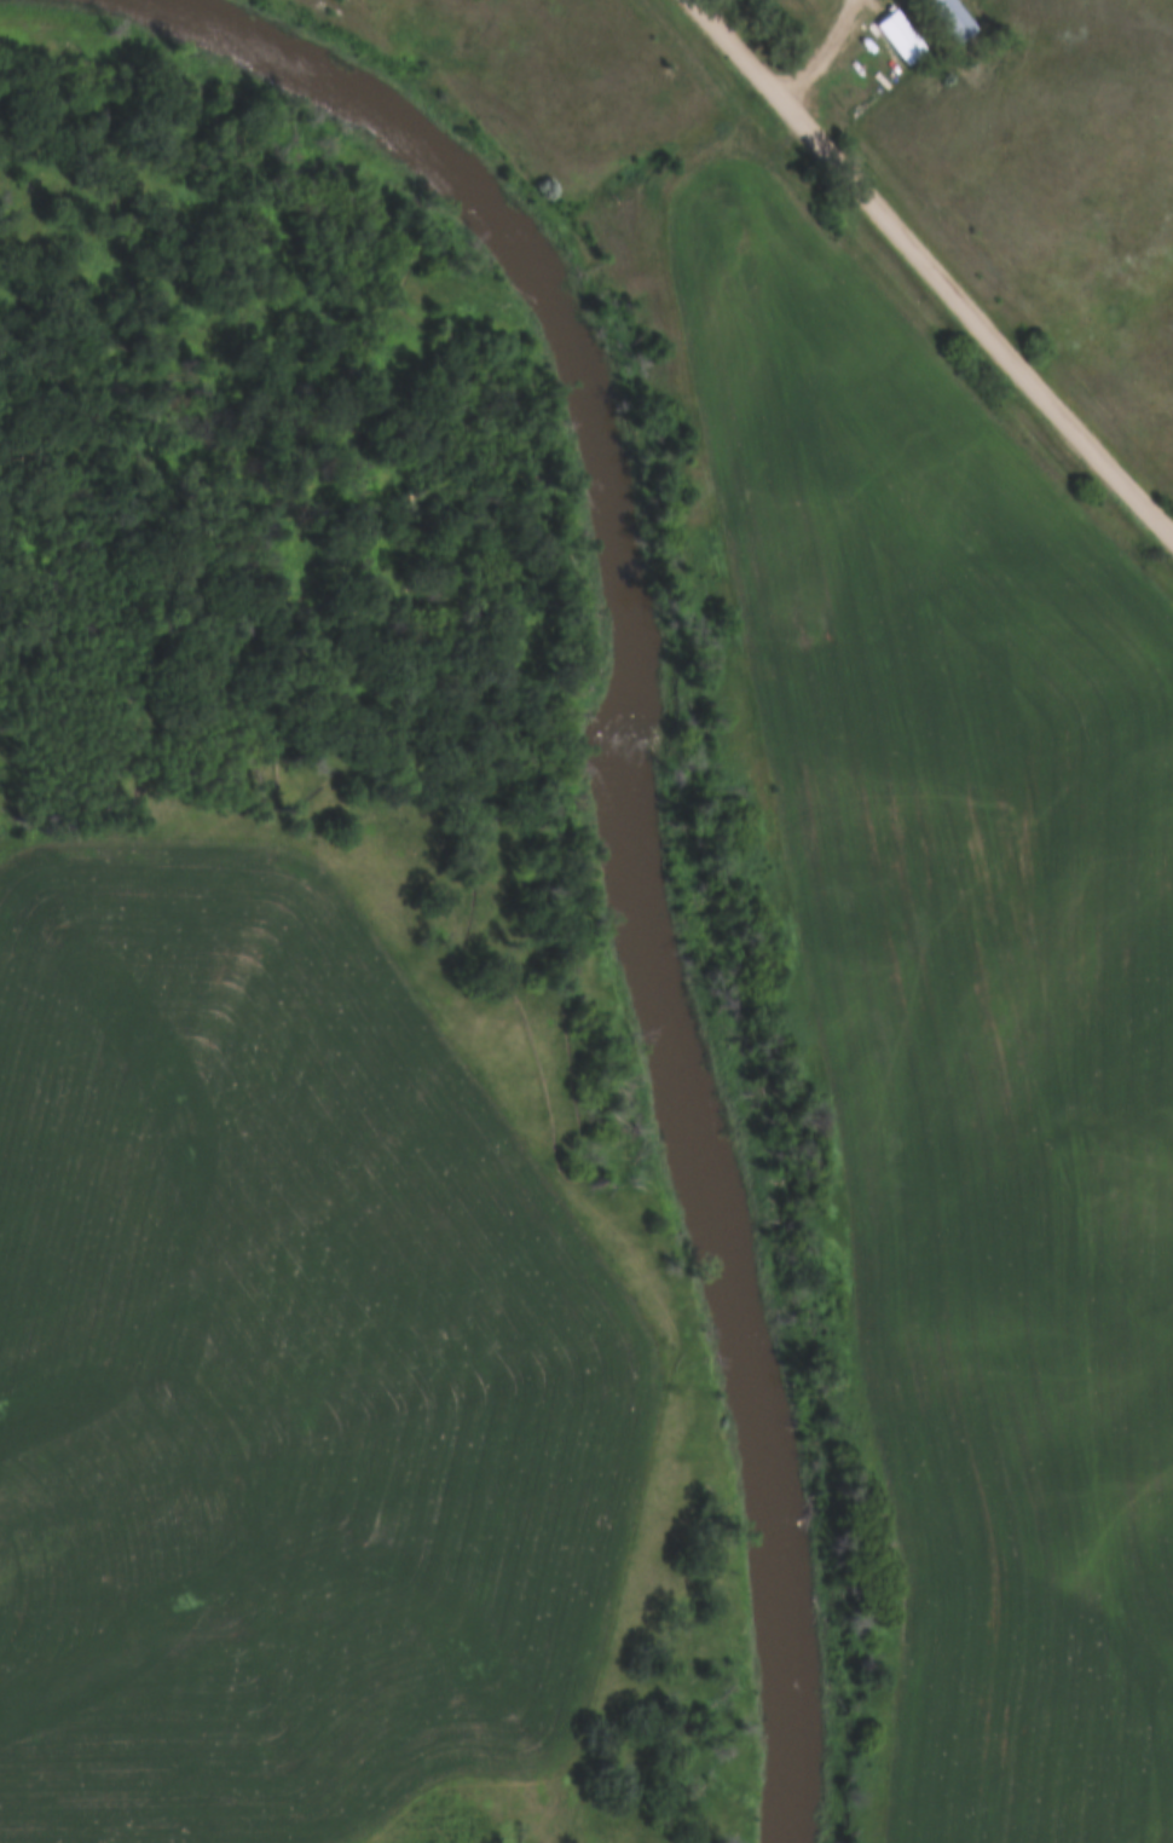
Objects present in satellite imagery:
building: (971, 22)
building: (923, 42)
road: (816, 51)
road: (931, 267)
river: (634, 809)
building: (1042, 1526)

